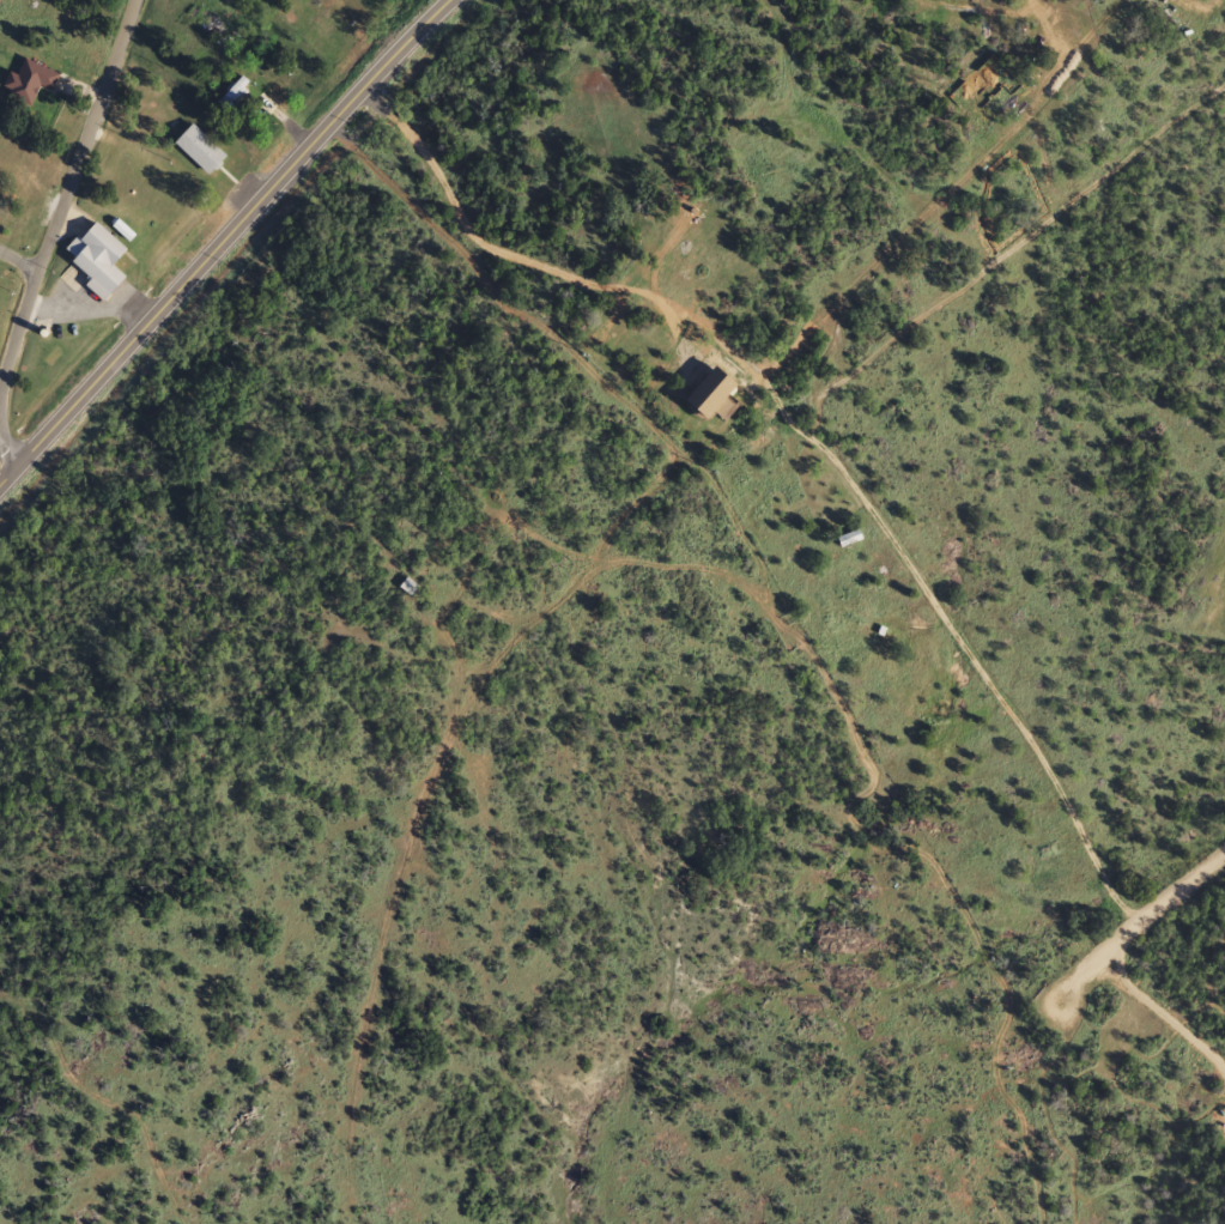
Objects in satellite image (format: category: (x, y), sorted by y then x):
building: (30, 81)
building: (234, 96)
building: (200, 150)
road: (61, 183)
road: (462, 223)
road: (219, 237)
building: (689, 242)
building: (98, 259)
road: (16, 260)
road: (815, 429)
road: (7, 448)
road: (672, 558)
building: (408, 587)
road: (1132, 916)
road: (1162, 1014)

